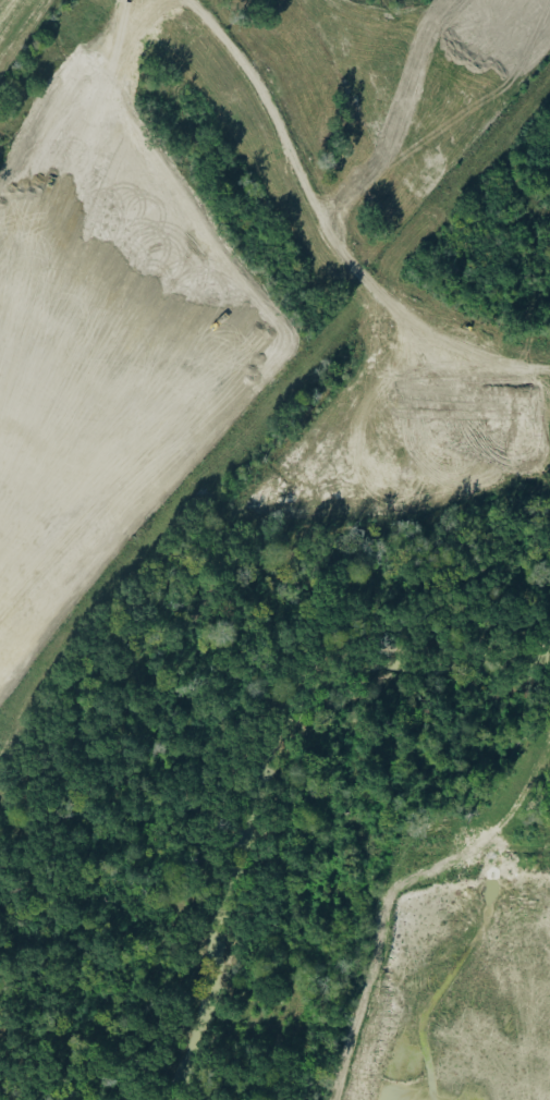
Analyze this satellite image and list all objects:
river: (271, 774)

